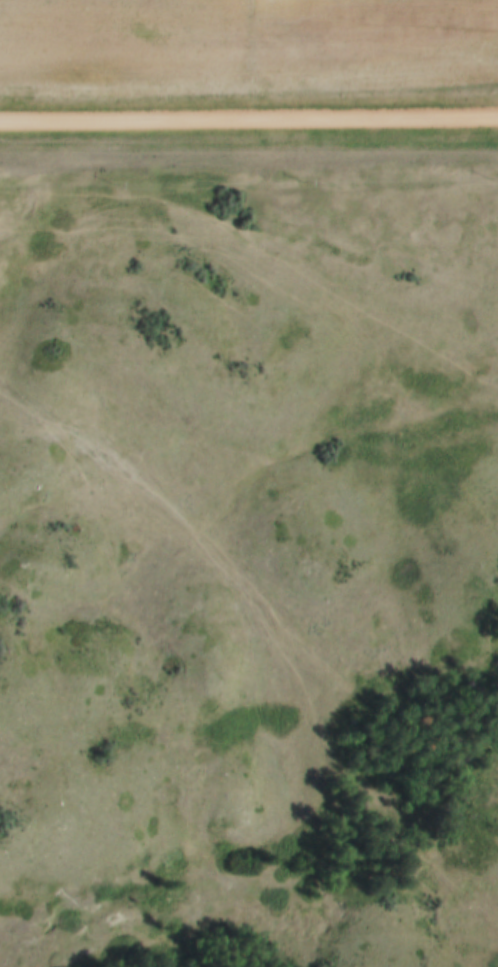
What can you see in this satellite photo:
road: (249, 120)

